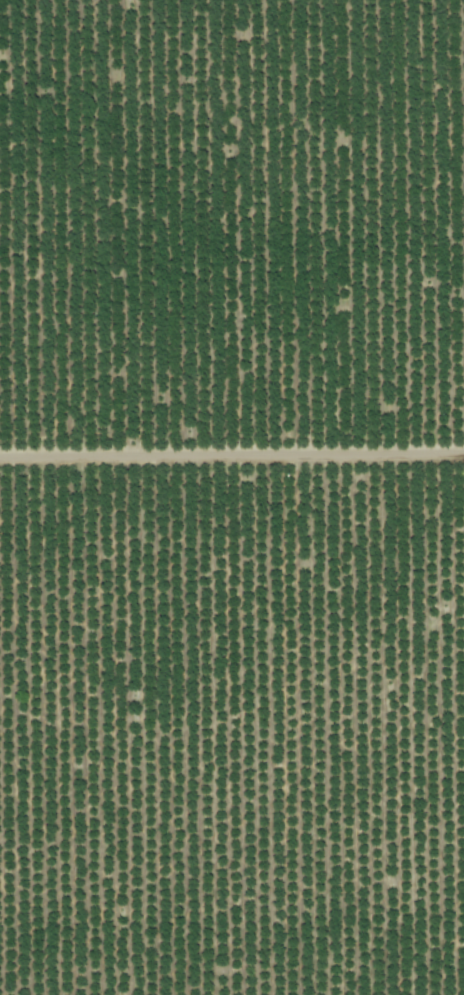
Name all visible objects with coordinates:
crop: (232, 497)

